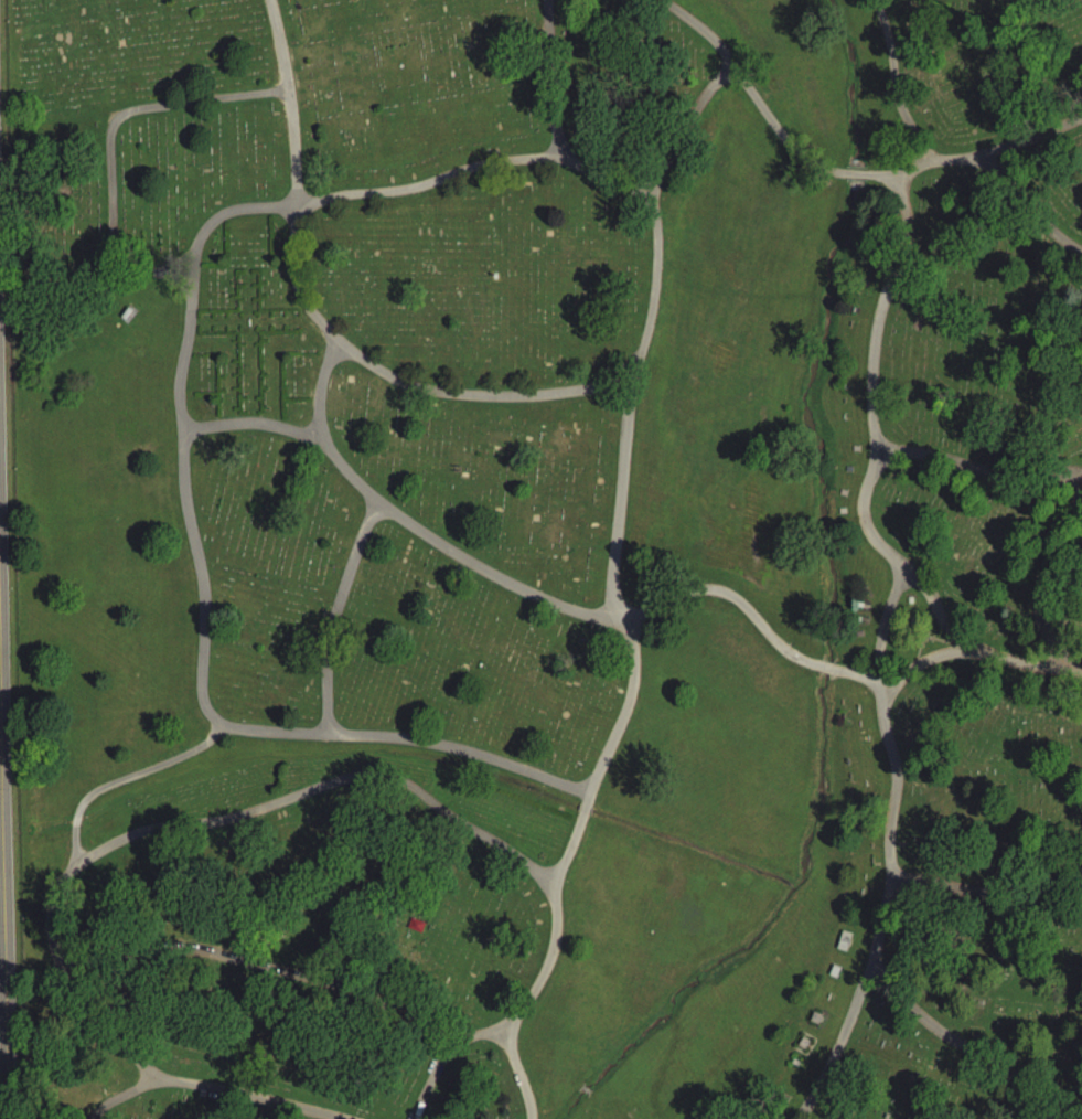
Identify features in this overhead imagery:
road: (553, 75)
road: (896, 82)
road: (289, 100)
road: (129, 111)
road: (683, 124)
road: (843, 171)
road: (1027, 203)
road: (657, 234)
road: (127, 263)
road: (170, 274)
road: (882, 305)
road: (394, 375)
road: (180, 401)
road: (981, 467)
road: (457, 552)
park: (553, 557)
road: (1041, 578)
road: (936, 607)
road: (334, 610)
road: (756, 616)
road: (976, 651)
road: (349, 733)
road: (897, 780)
road: (249, 810)
road: (3, 871)
road: (987, 892)
road: (537, 983)
road: (74, 987)
road: (960, 1043)
road: (521, 1074)
road: (429, 1080)
road: (253, 1094)
road: (120, 1095)

